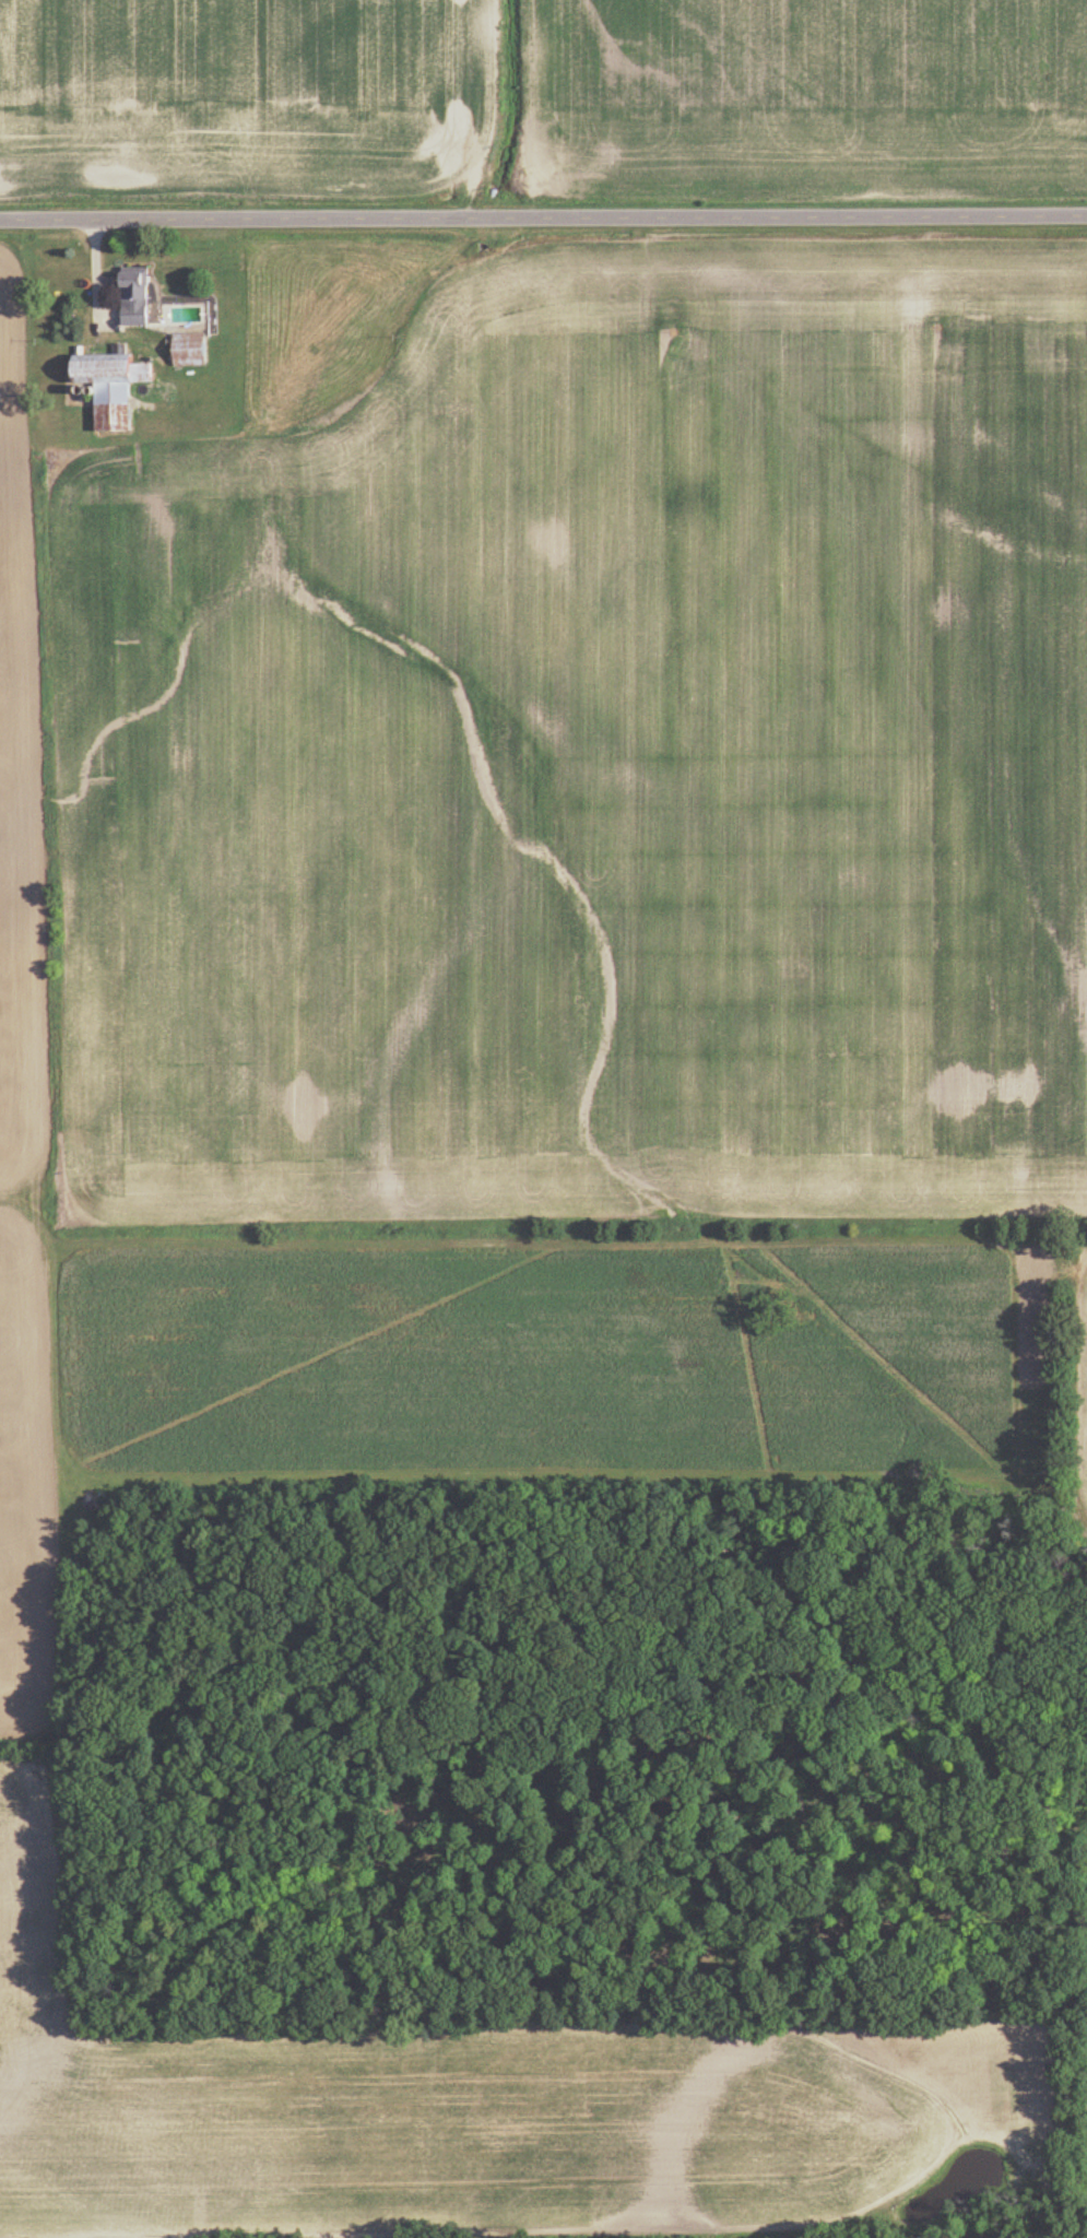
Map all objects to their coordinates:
road: (543, 214)
building: (137, 297)
building: (192, 350)
building: (115, 387)

